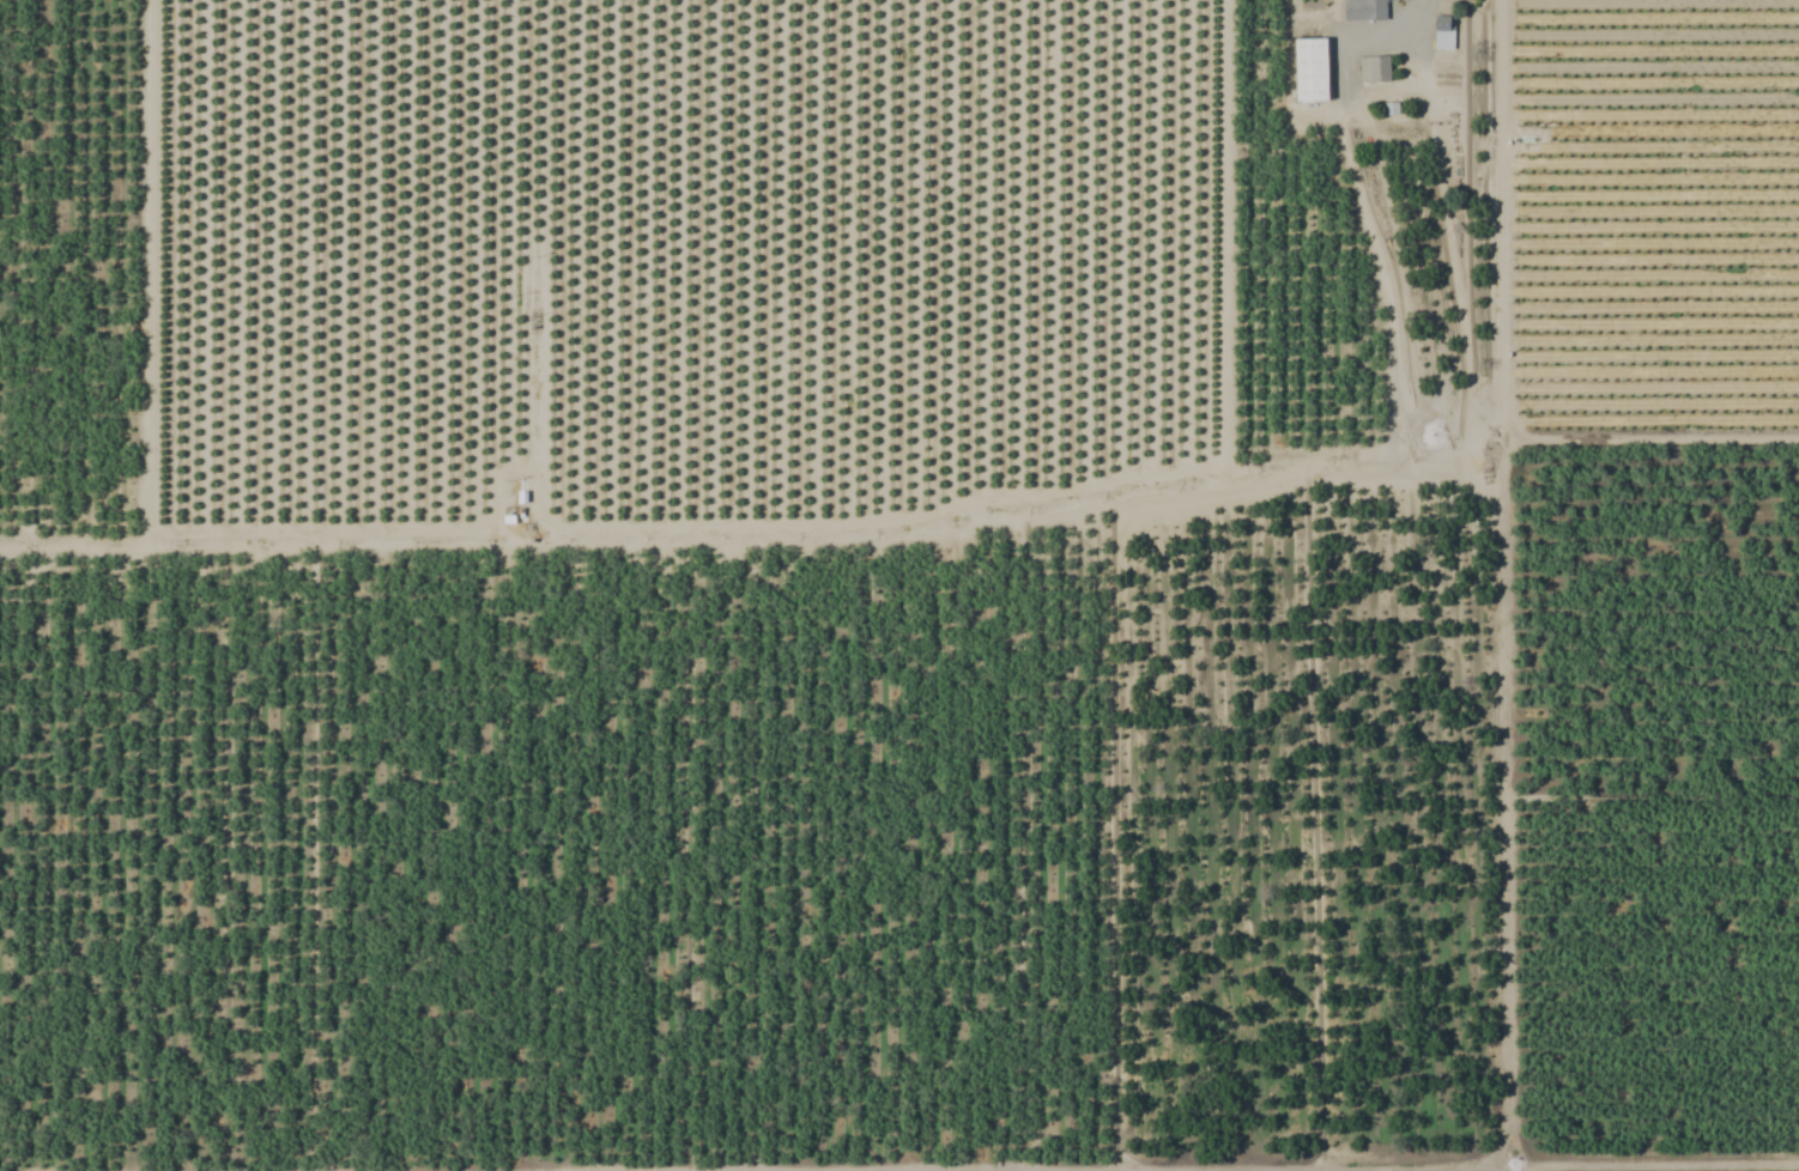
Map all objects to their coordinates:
building: (1364, 11)
building: (1443, 38)
building: (1312, 71)
building: (1374, 71)

